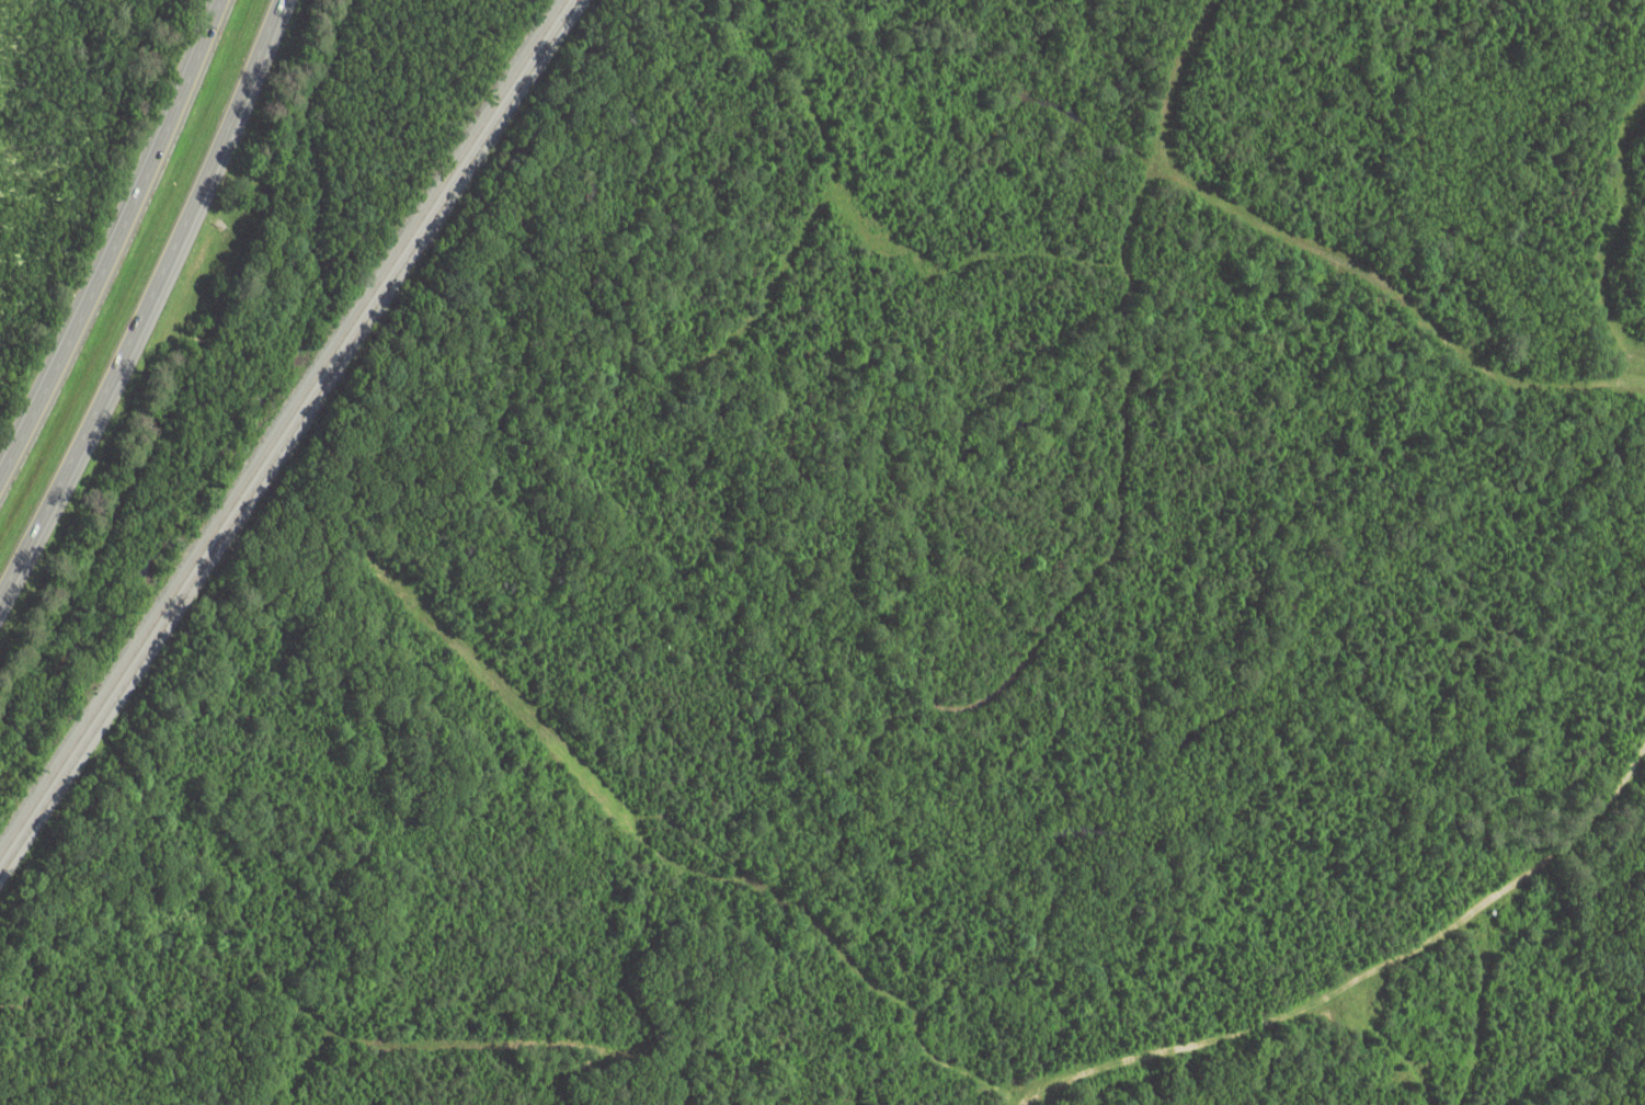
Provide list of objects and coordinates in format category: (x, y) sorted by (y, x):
road: (118, 244)
road: (151, 306)
railway: (282, 429)
railway: (288, 438)

